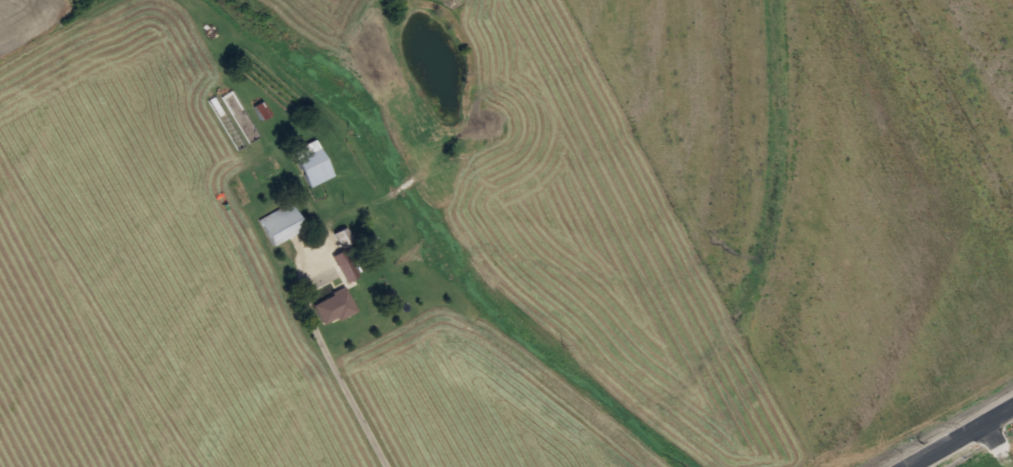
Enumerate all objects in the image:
building: (314, 167)
crop: (755, 208)
building: (281, 223)
building: (345, 242)
crop: (145, 257)
building: (349, 271)
building: (334, 306)
crop: (473, 388)
road: (358, 411)
road: (956, 434)
crop: (1009, 453)

